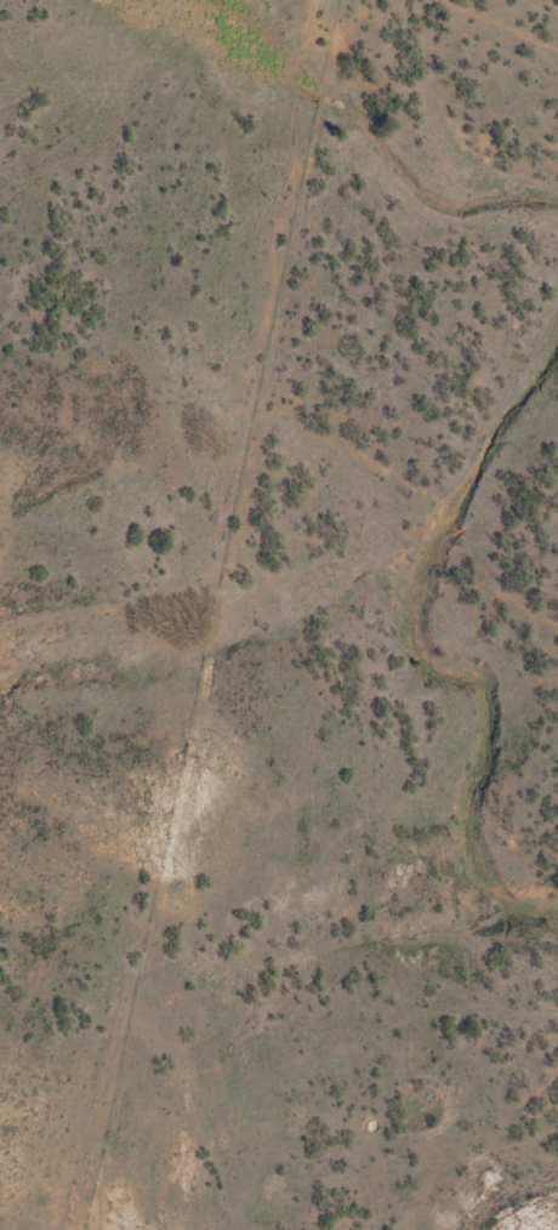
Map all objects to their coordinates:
road: (501, 32)
road: (297, 611)

